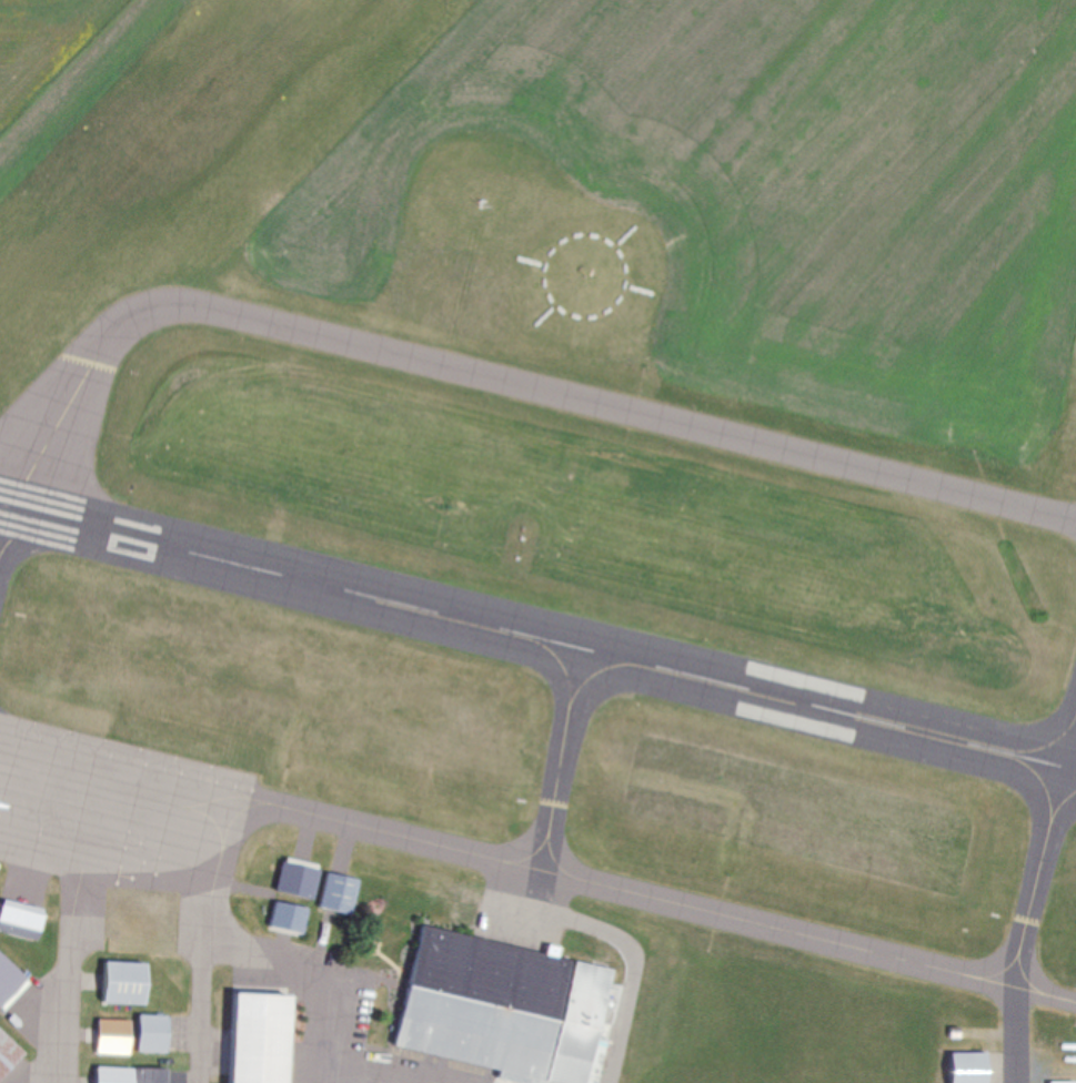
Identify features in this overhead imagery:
crop: (39, 40)
airport runway: (152, 158)
airport taxiway: (462, 363)
airport: (541, 544)
airport runway: (537, 635)
airport taxiway: (562, 758)
airport apron: (110, 802)
airport taxiway: (641, 893)
airport taxiway: (201, 974)
airport taxiway: (70, 976)
airport taxiway: (1014, 1001)
road: (313, 1031)

